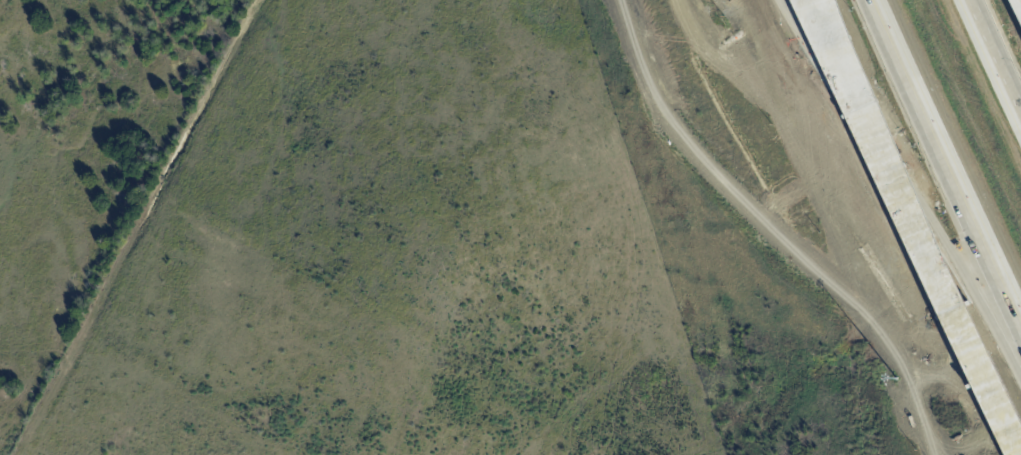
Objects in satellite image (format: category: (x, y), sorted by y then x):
road: (993, 59)
road: (943, 170)
road: (907, 184)
road: (908, 227)

